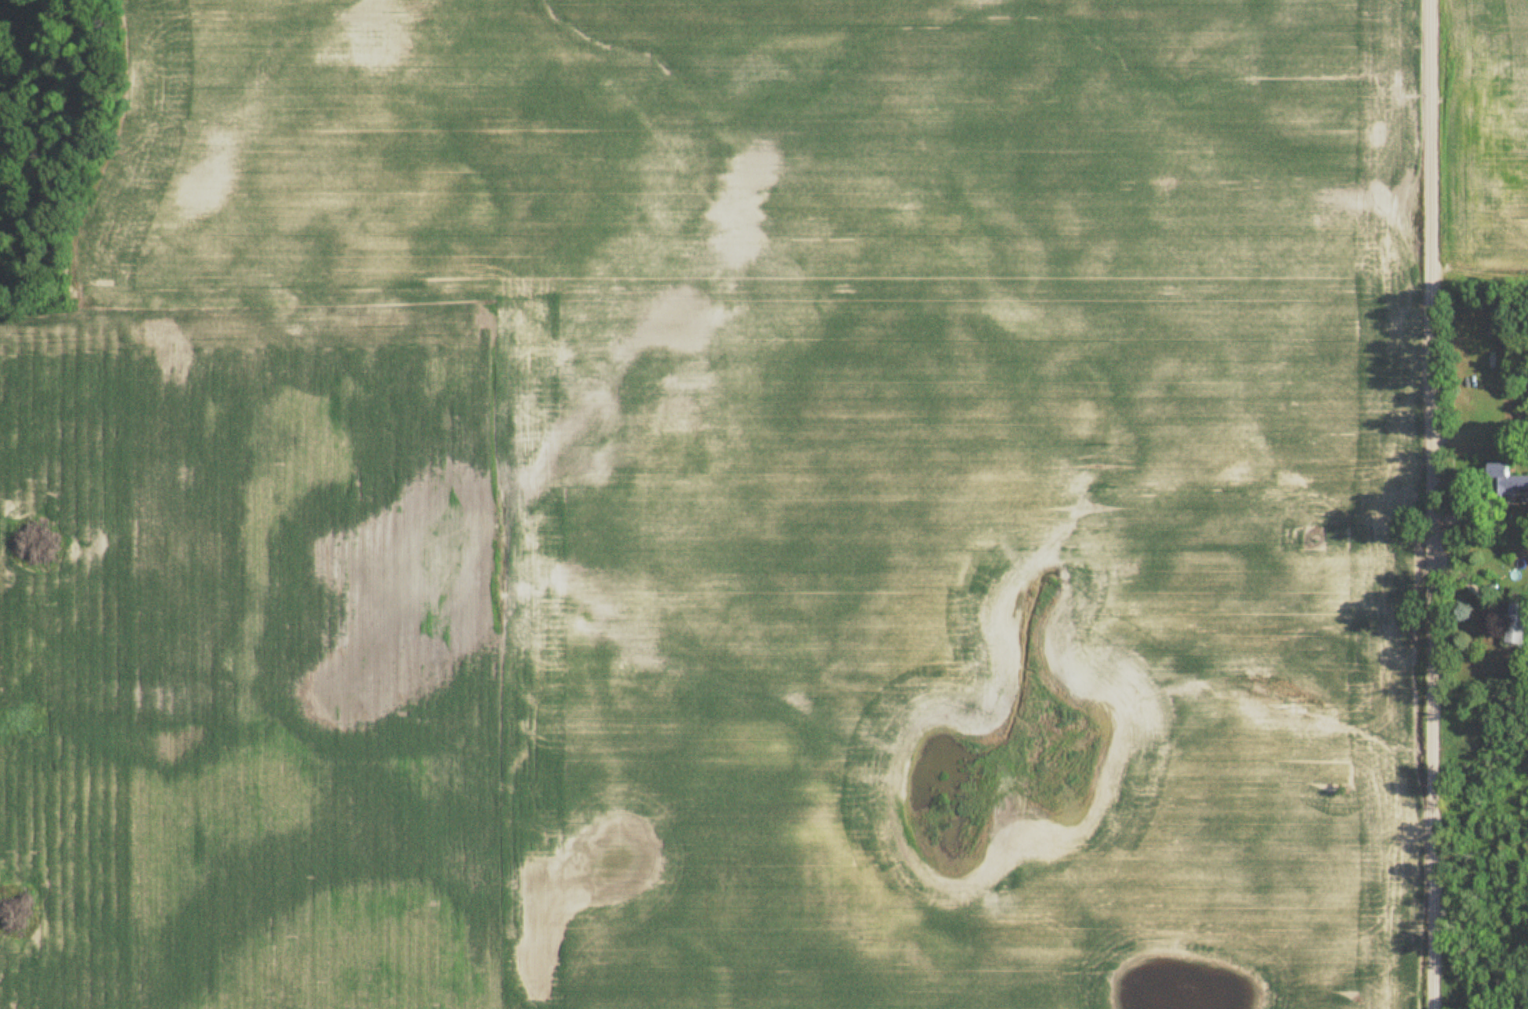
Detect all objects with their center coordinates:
building: (1505, 483)
road: (1431, 504)
building: (1518, 624)

